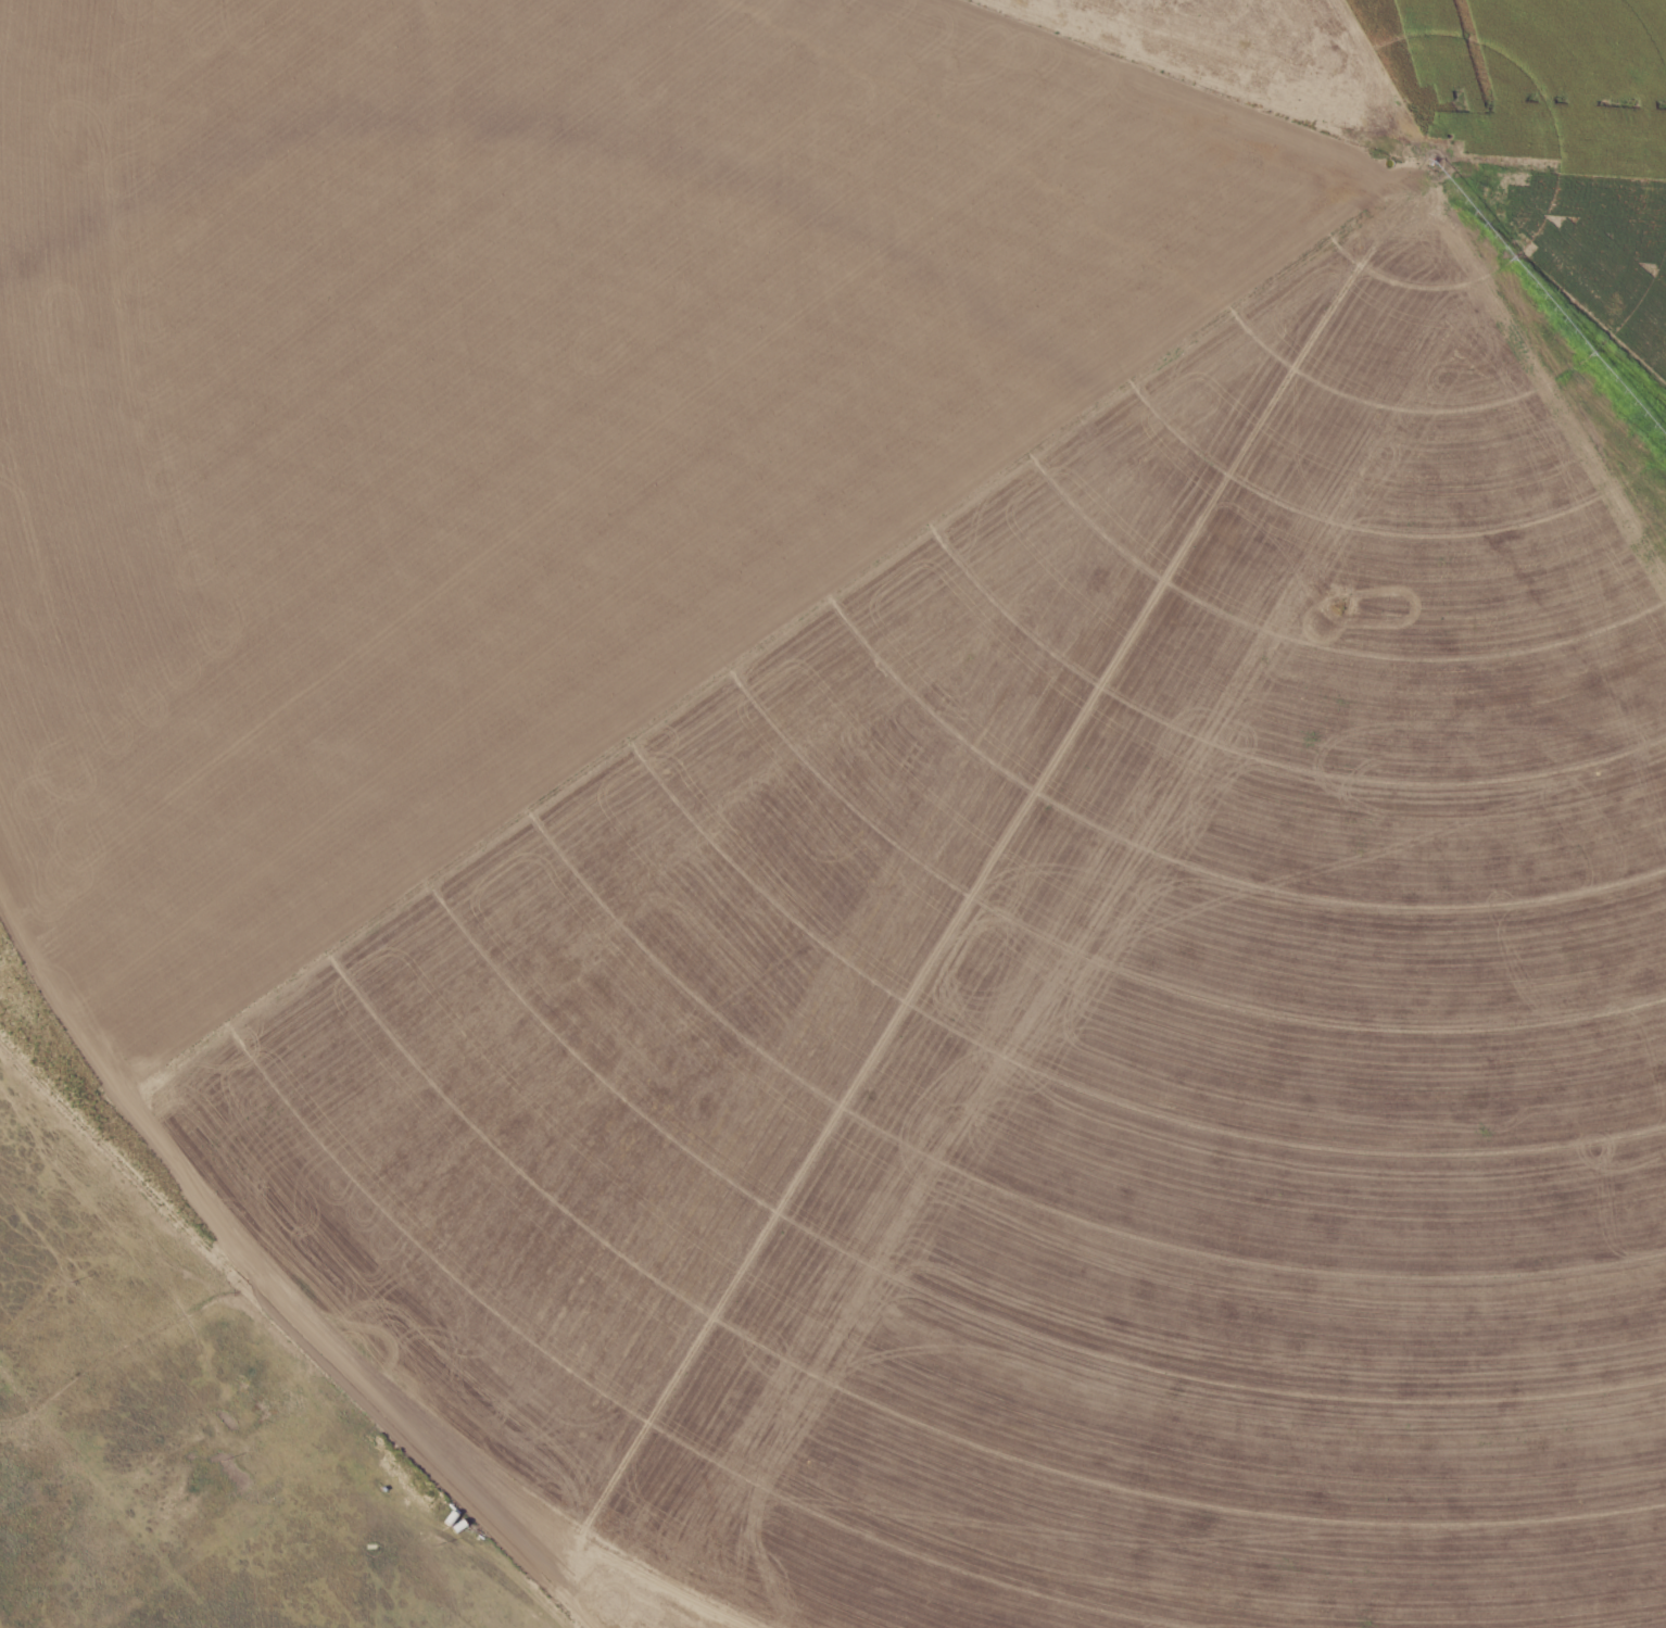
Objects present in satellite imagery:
road: (422, 1491)

